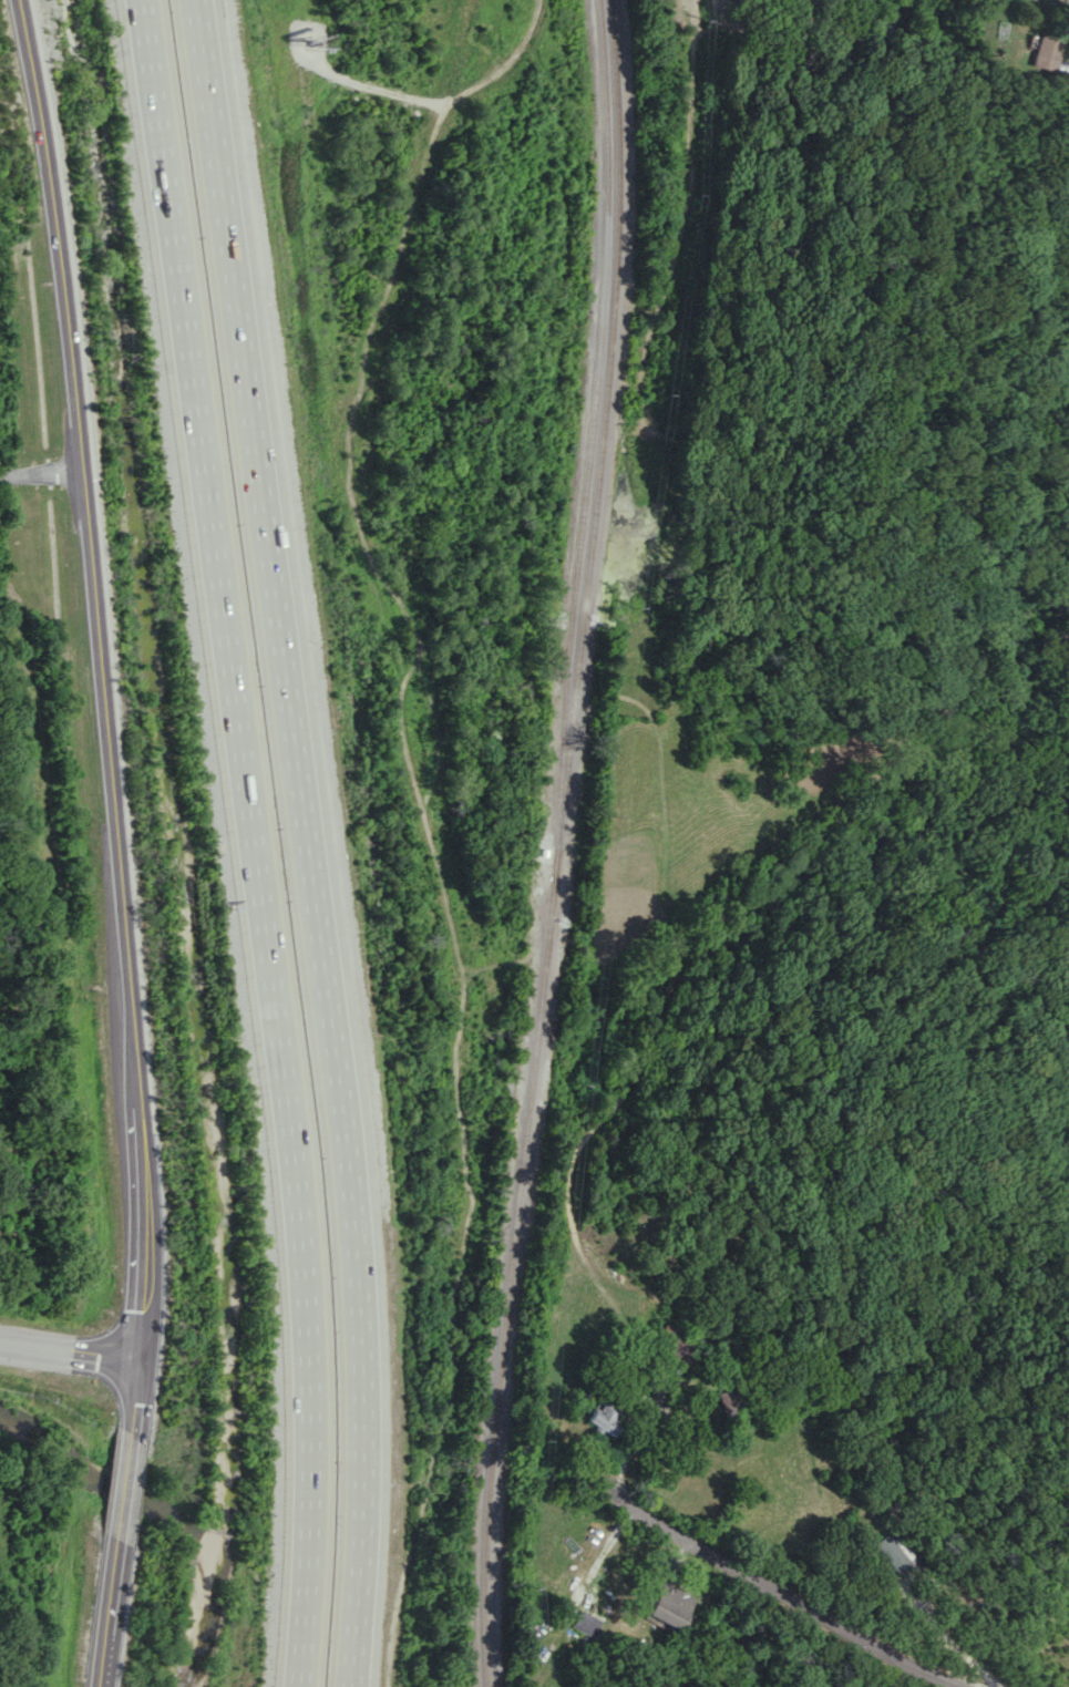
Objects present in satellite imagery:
building: (1045, 52)
road: (697, 185)
road: (41, 473)
road: (249, 841)
road: (304, 841)
road: (116, 842)
railway: (559, 844)
building: (674, 1343)
road: (69, 1357)
building: (736, 1407)
building: (600, 1419)
river: (51, 1448)
river: (123, 1492)
building: (891, 1552)
river: (213, 1578)
road: (794, 1601)
building: (668, 1606)
building: (584, 1623)
road: (944, 1640)

